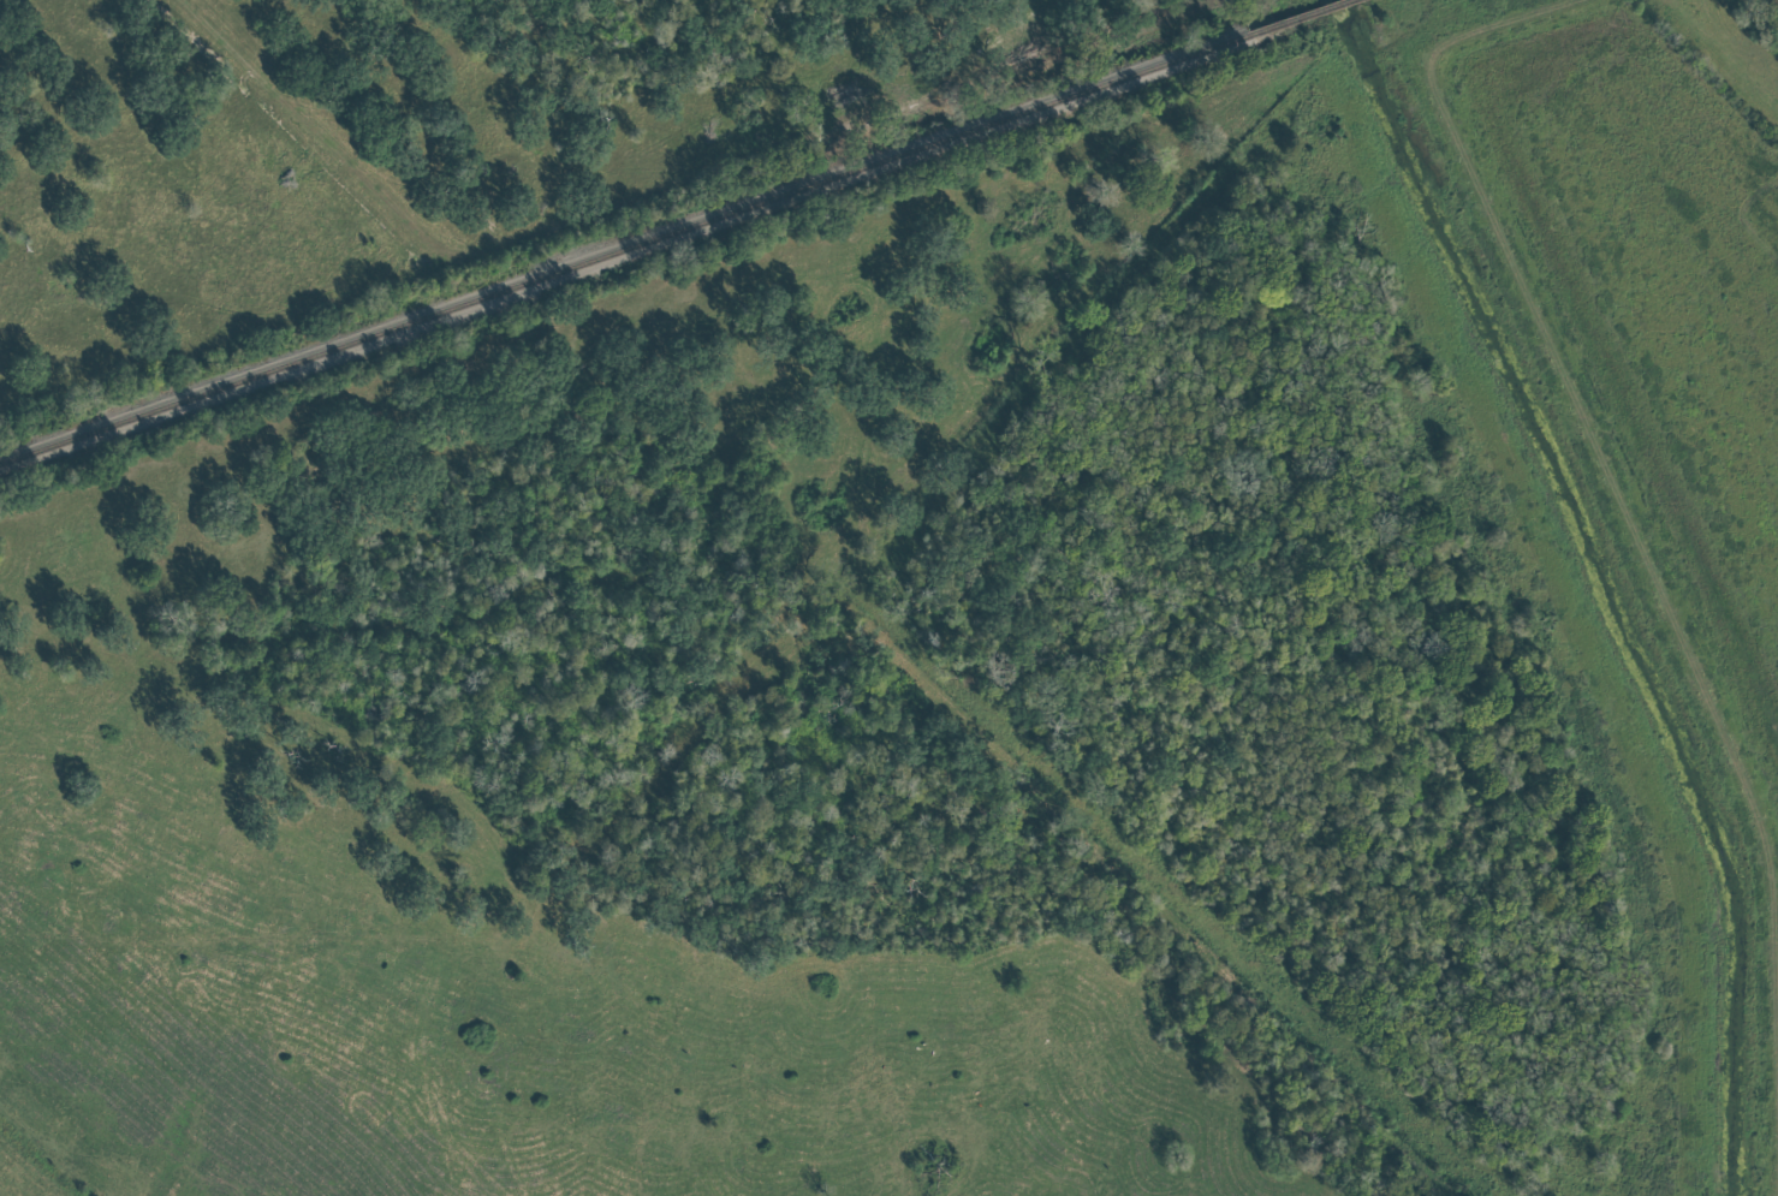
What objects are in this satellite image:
railway: (1301, 18)
road: (590, 218)
railway: (623, 249)

